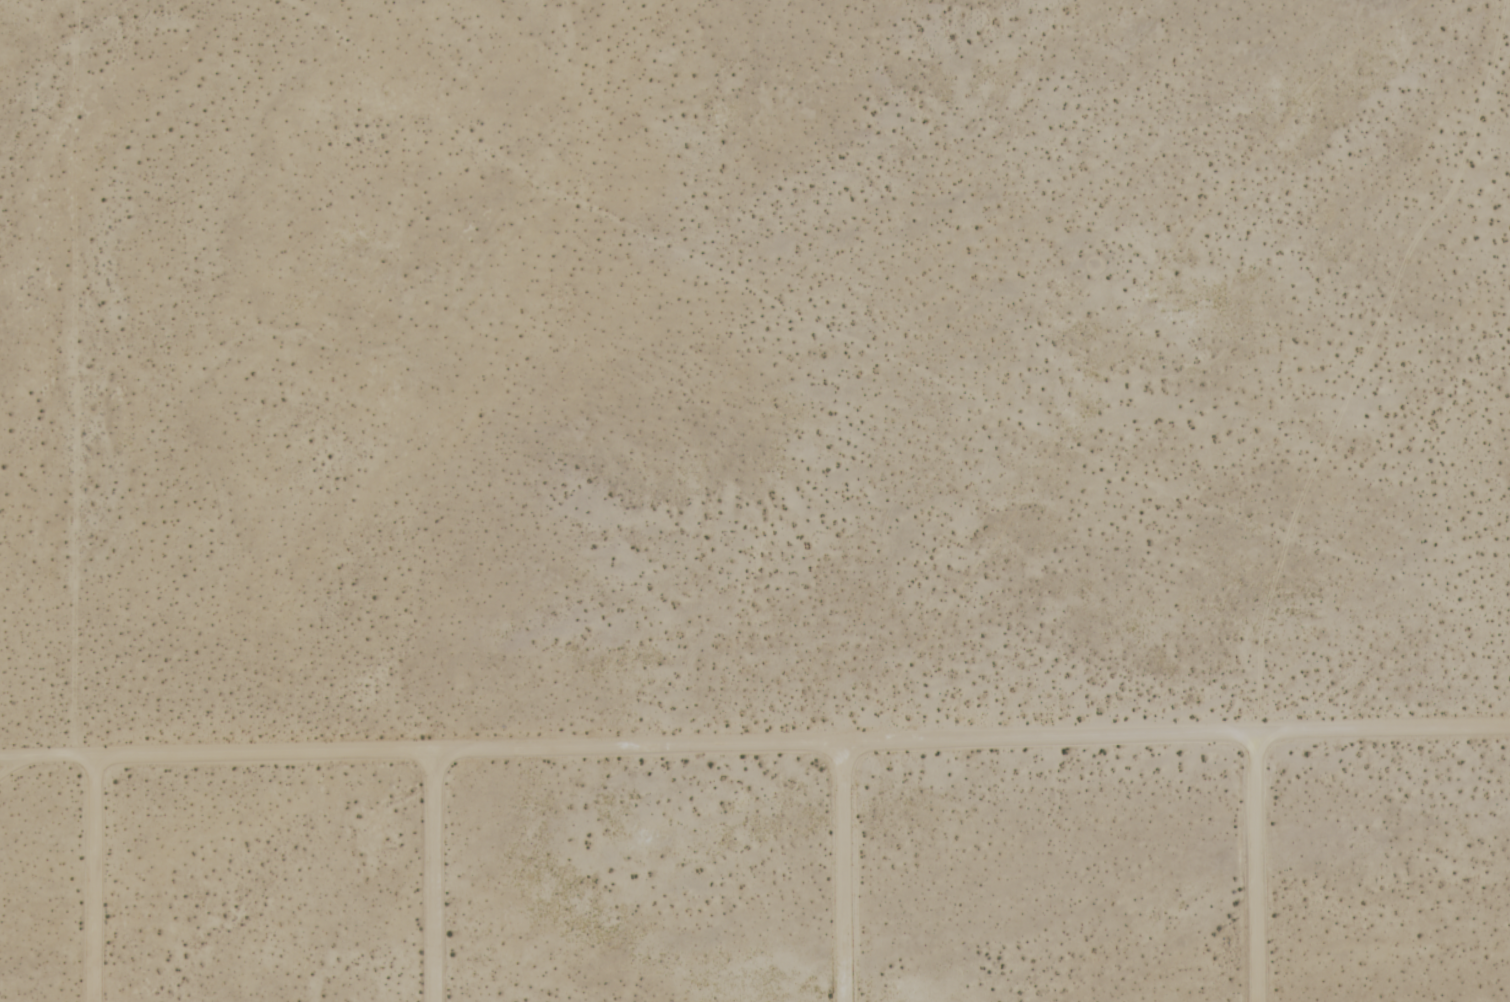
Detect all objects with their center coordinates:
road: (755, 742)
road: (1256, 866)
road: (843, 871)
road: (436, 876)
road: (95, 879)

